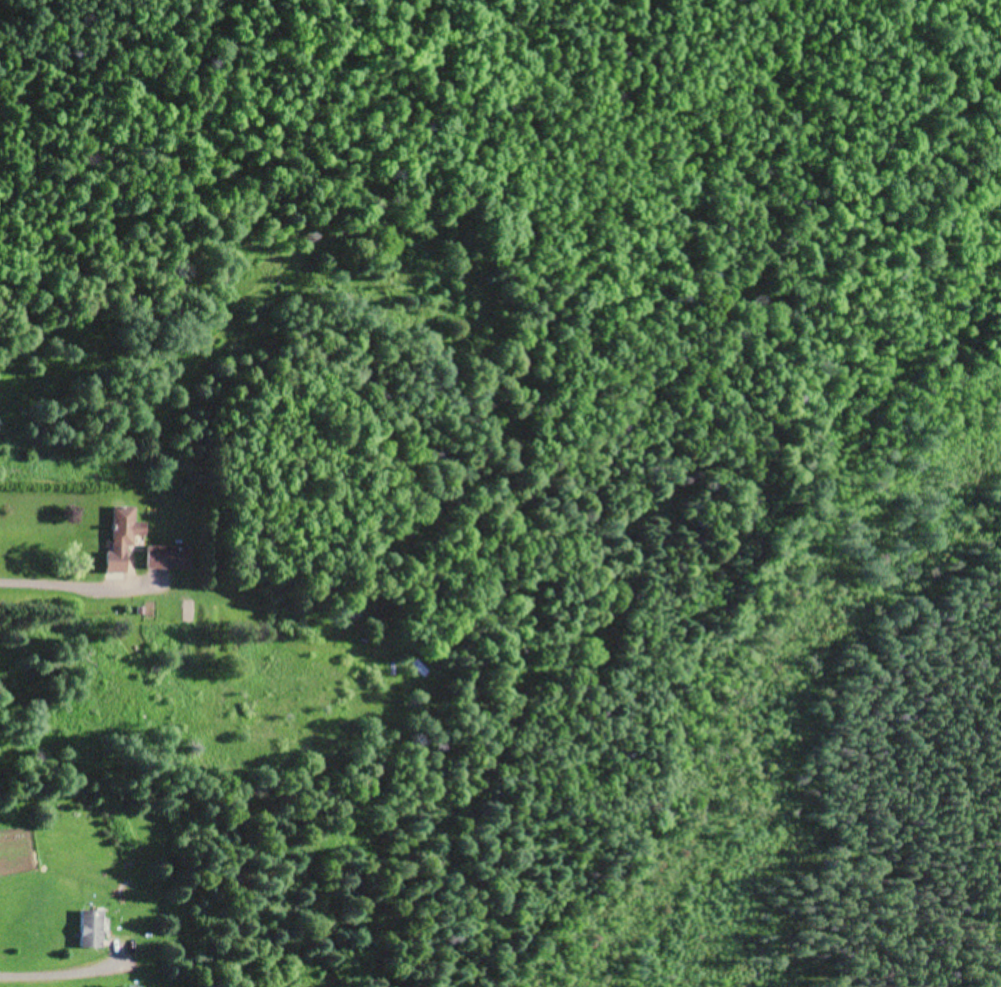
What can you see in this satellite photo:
building: (123, 536)
building: (168, 556)
building: (93, 927)

